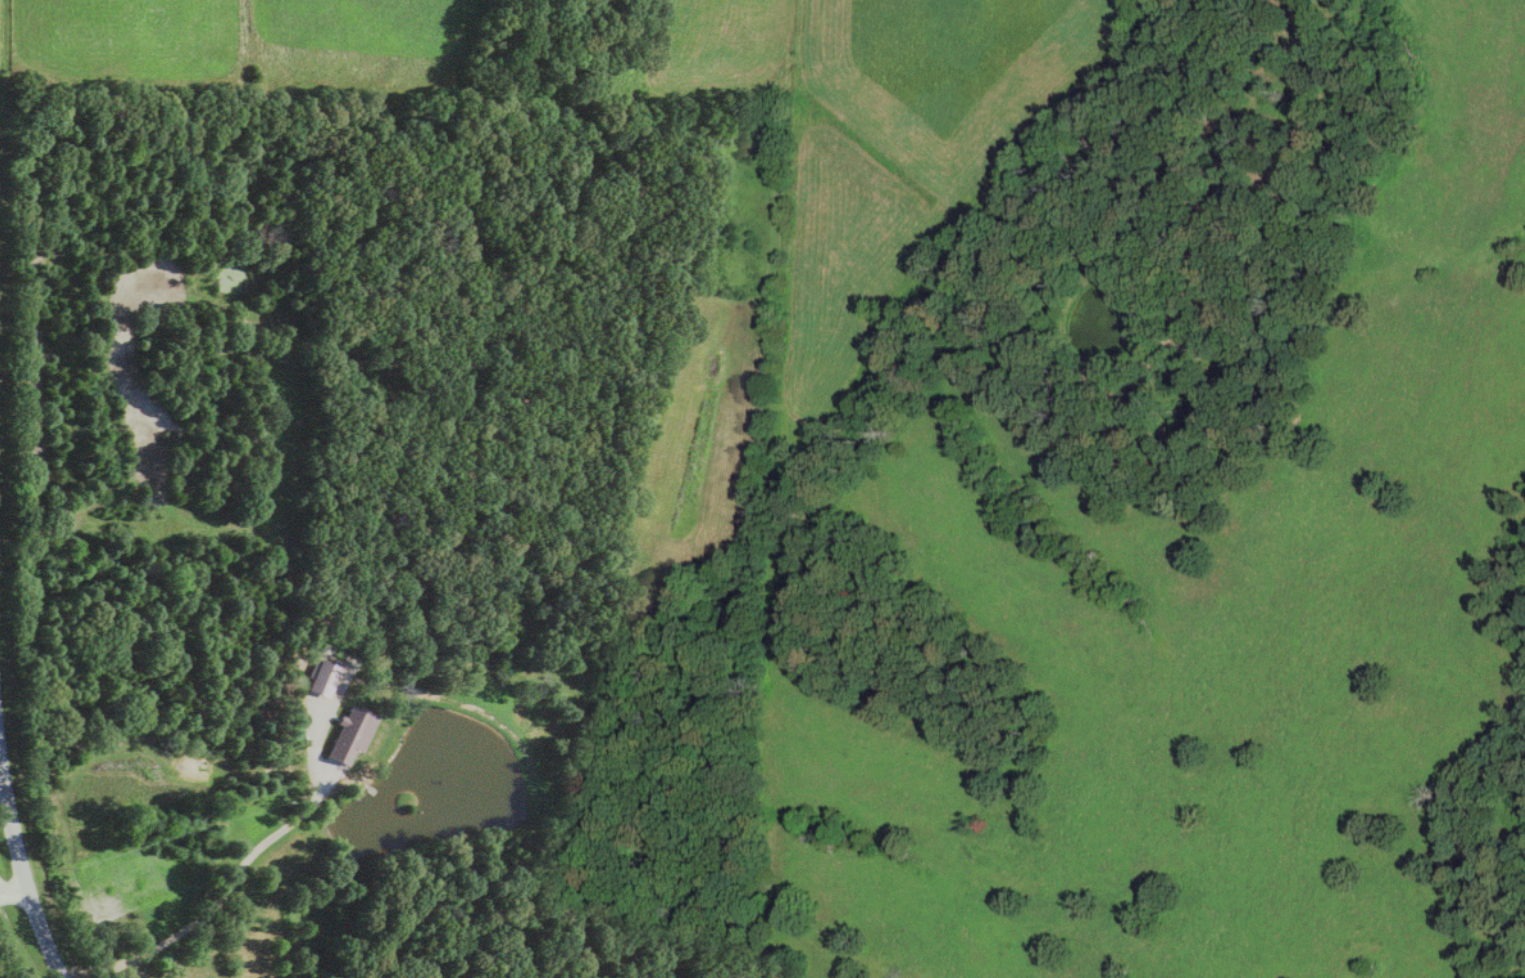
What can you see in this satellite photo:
road: (29, 874)
road: (211, 899)

